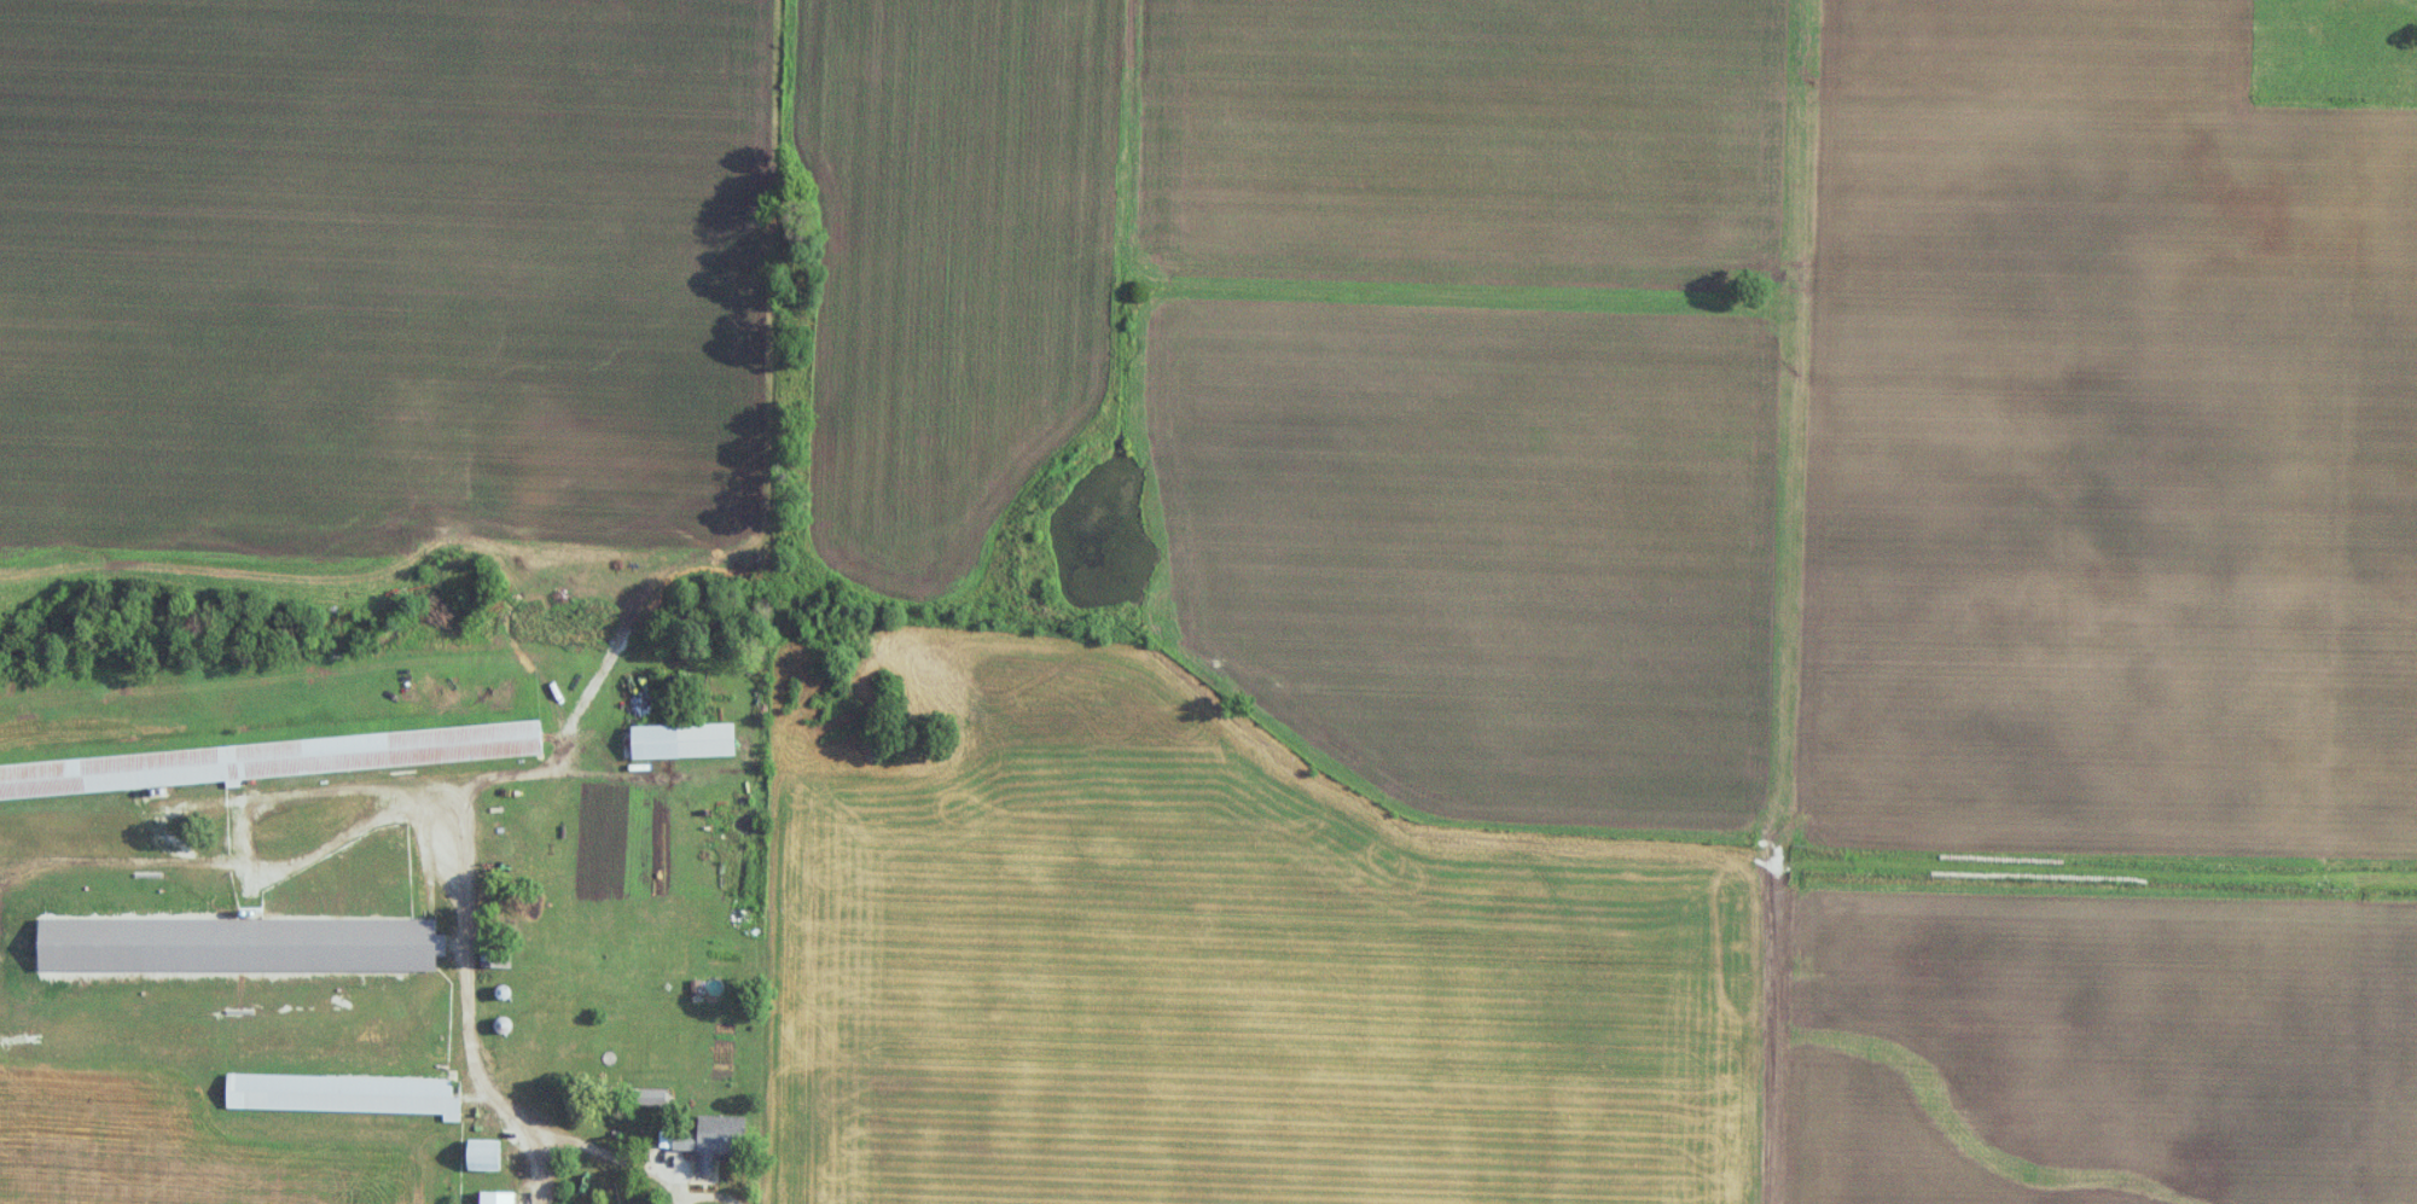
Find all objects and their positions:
building: (679, 741)
building: (258, 761)
road: (402, 785)
building: (496, 959)
road: (472, 1010)
building: (345, 1095)
building: (651, 1098)
building: (710, 1140)
building: (483, 1154)
road: (713, 1173)
building: (496, 1197)

